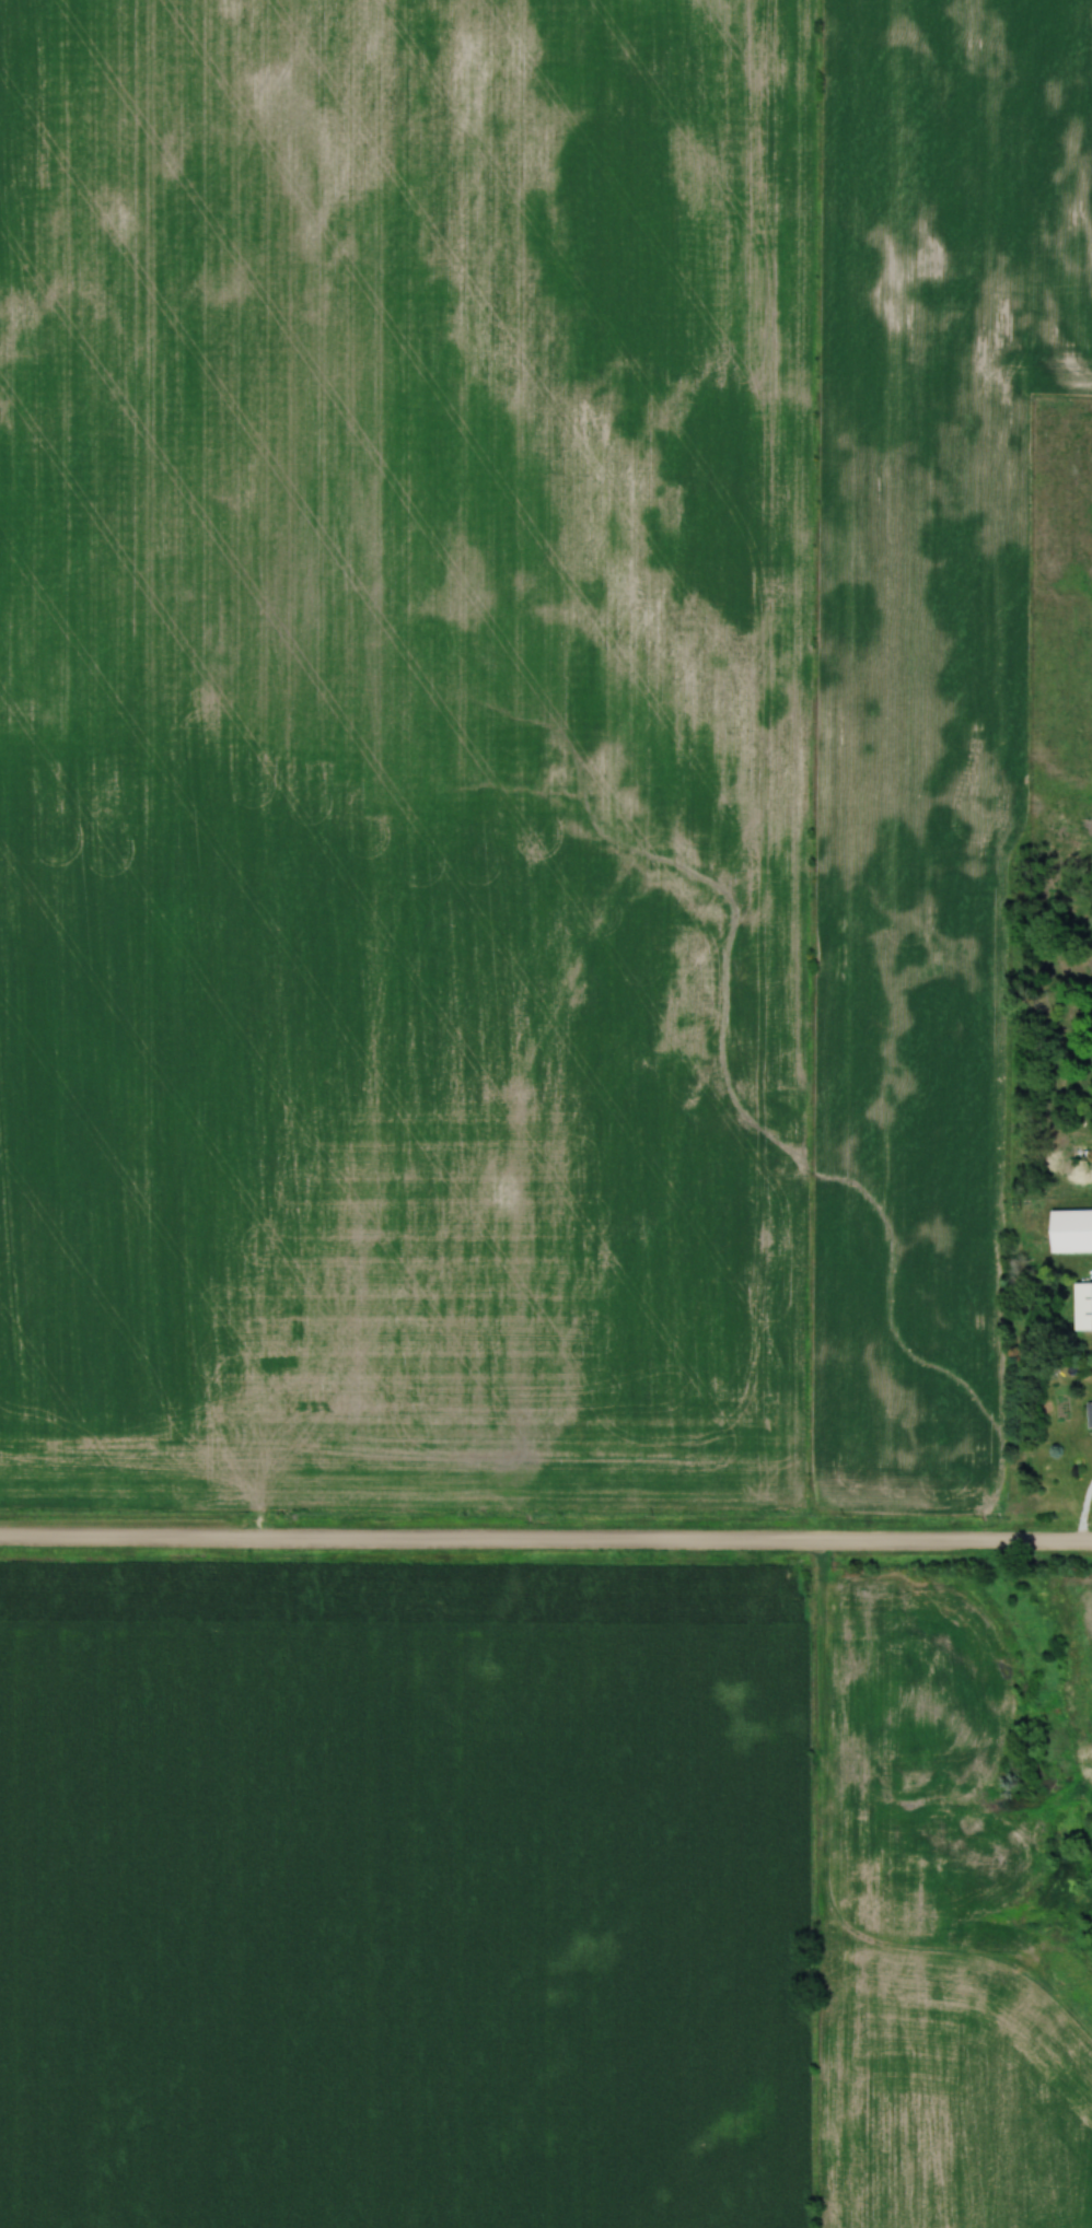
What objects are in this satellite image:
building: (1083, 1307)
road: (545, 1542)

